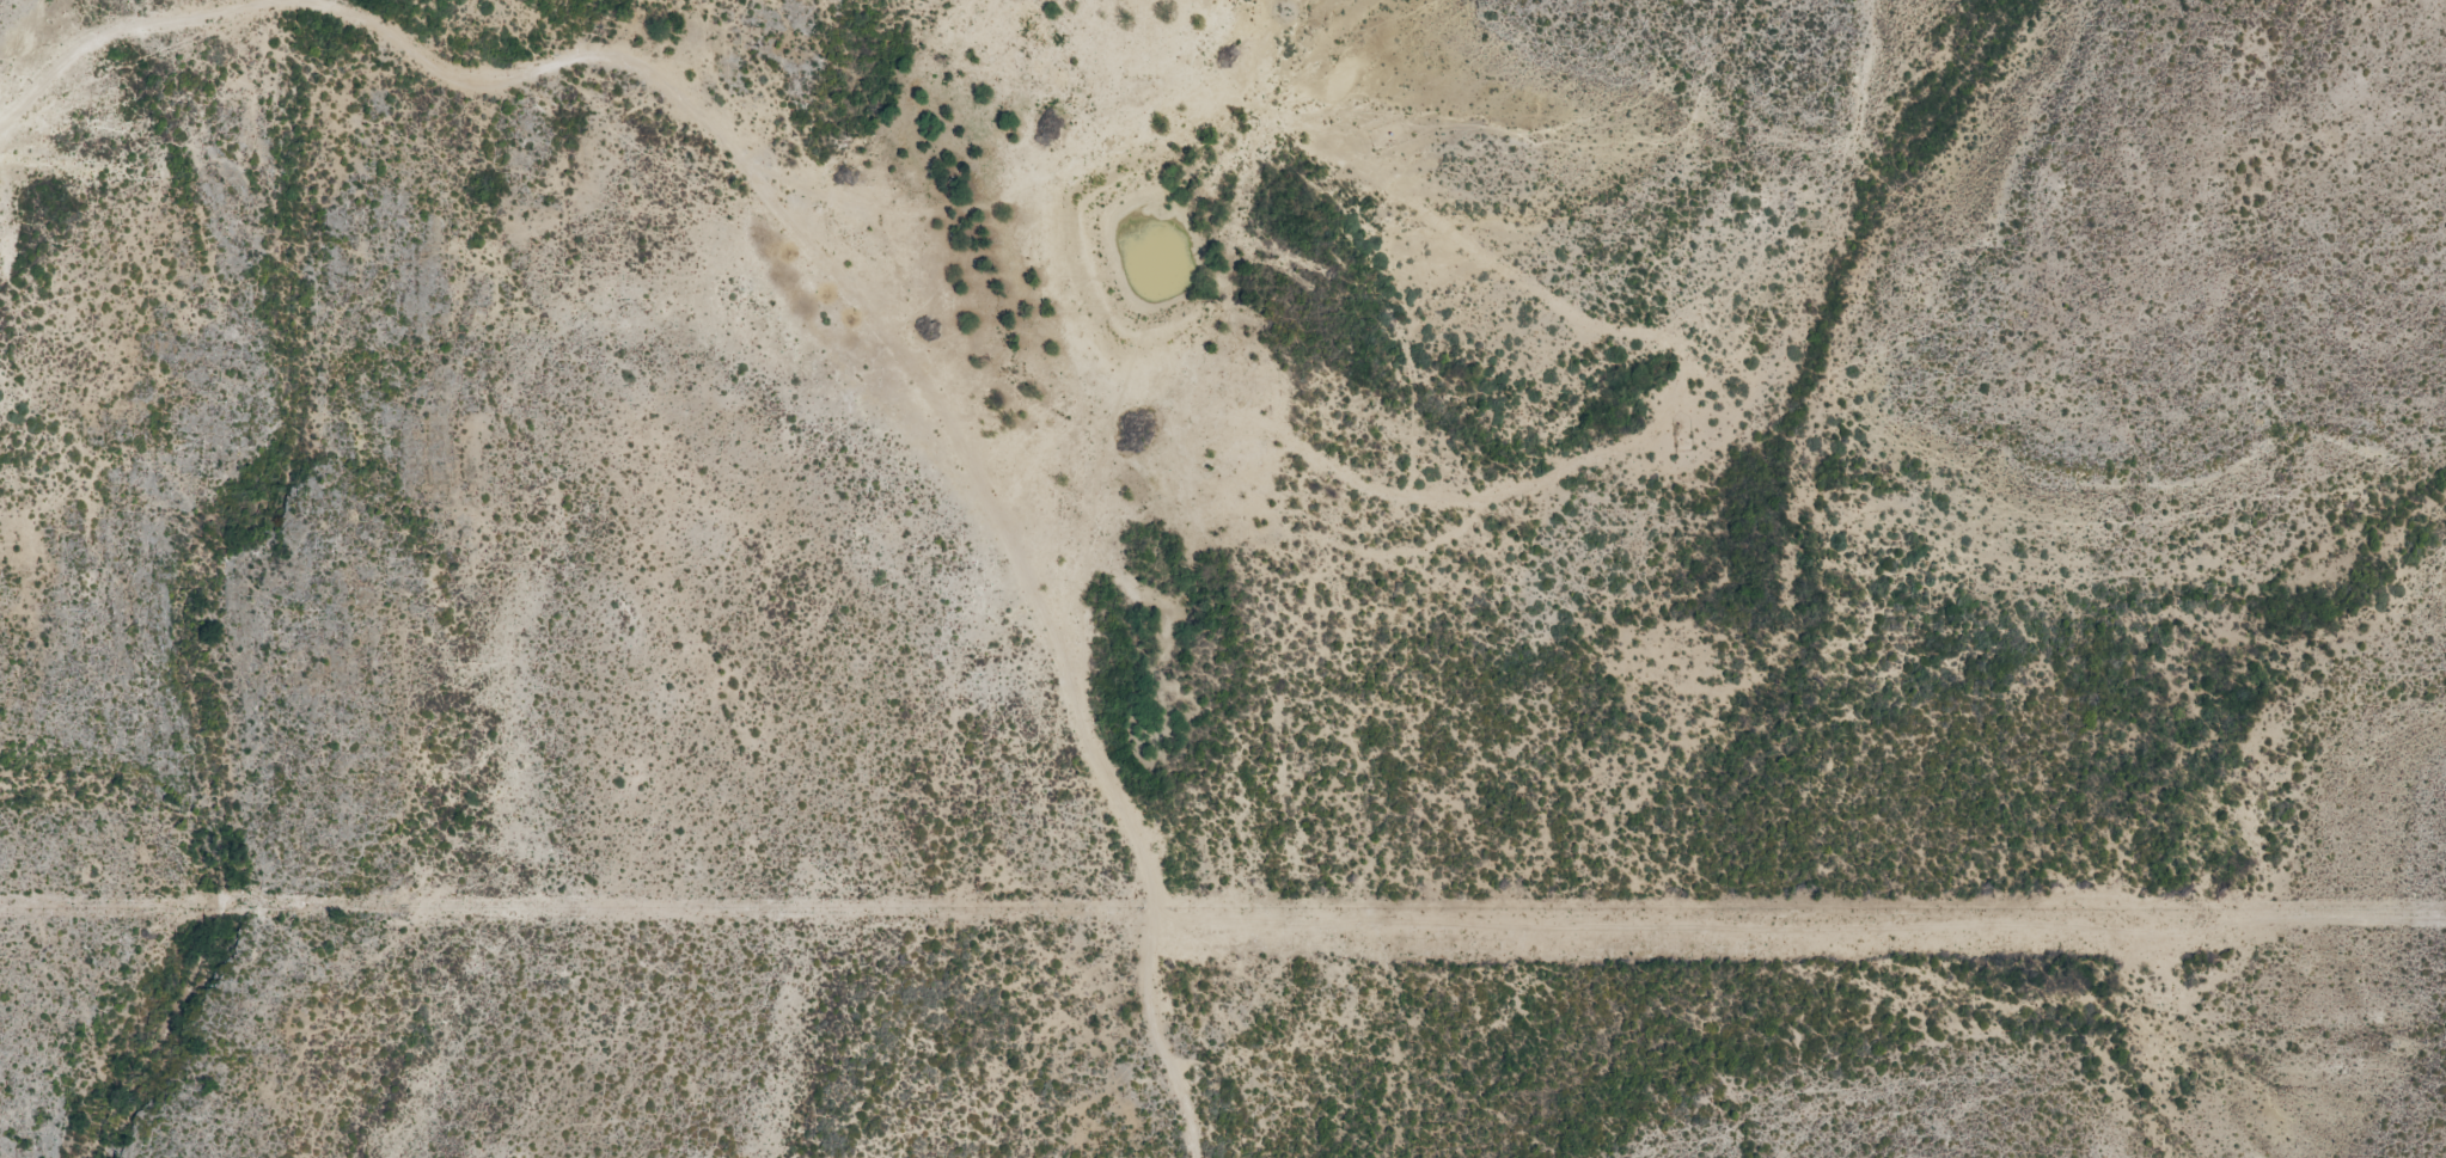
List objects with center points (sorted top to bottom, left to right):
road: (831, 268)

